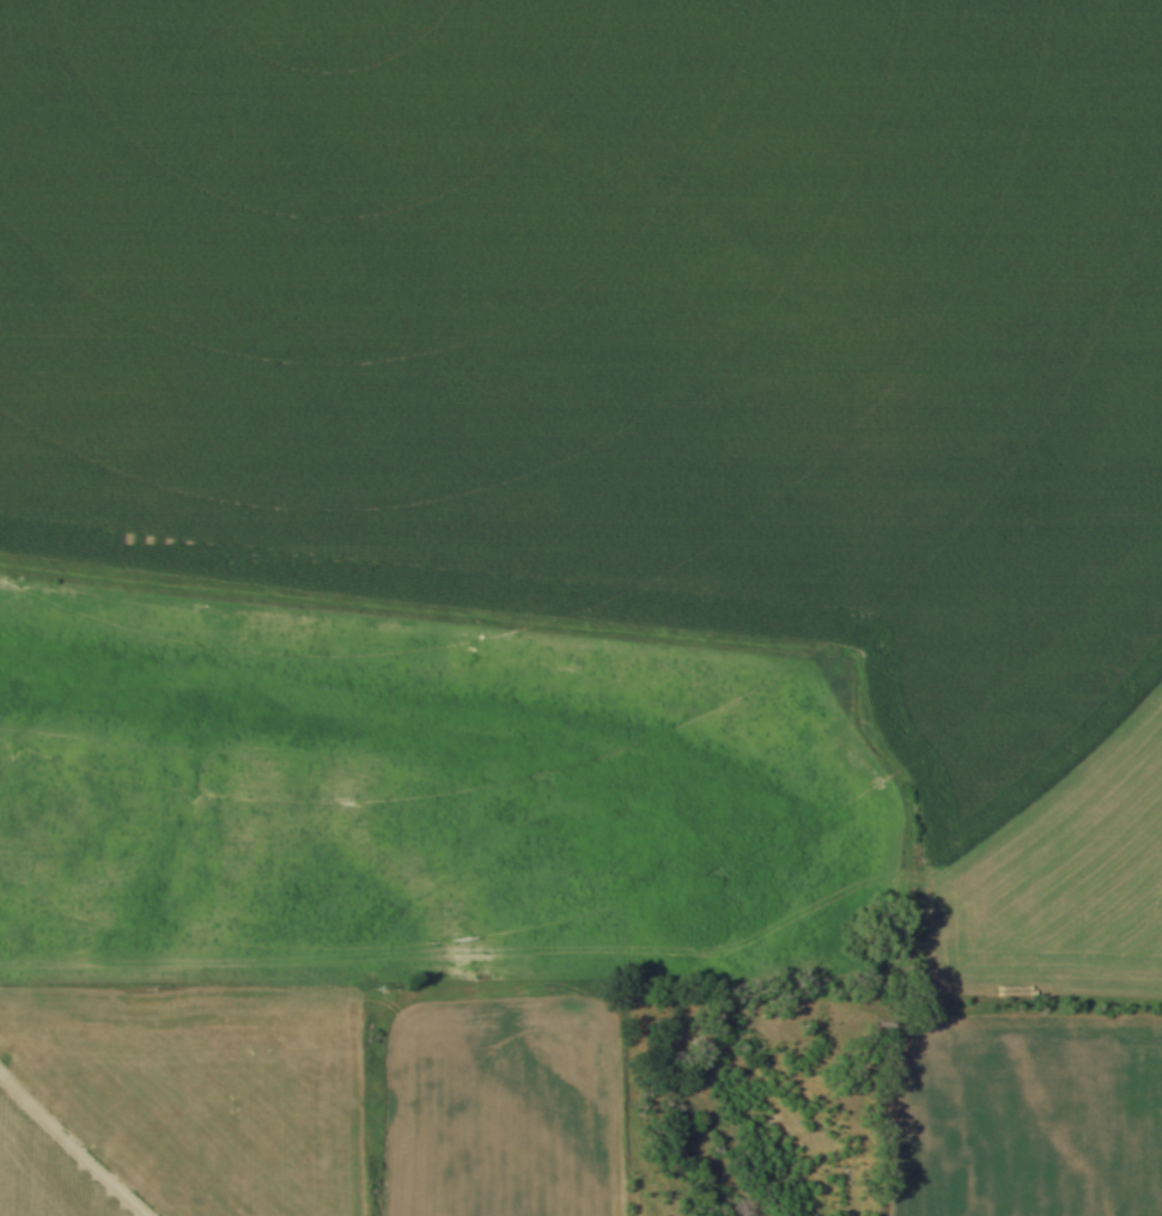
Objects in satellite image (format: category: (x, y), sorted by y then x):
crop: (645, 364)
road: (371, 957)
crop: (176, 1109)
crop: (1021, 1120)

